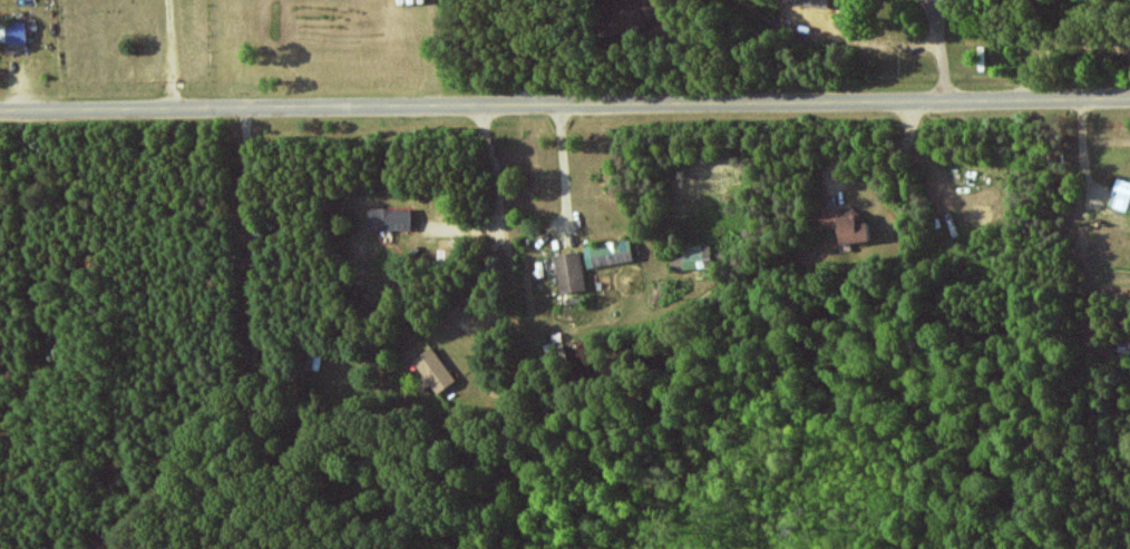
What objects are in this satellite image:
building: (809, 2)
building: (626, 17)
building: (12, 31)
road: (564, 105)
road: (564, 173)
building: (1120, 195)
road: (497, 197)
building: (388, 219)
building: (845, 225)
building: (608, 253)
building: (691, 257)
building: (569, 273)
building: (434, 370)

